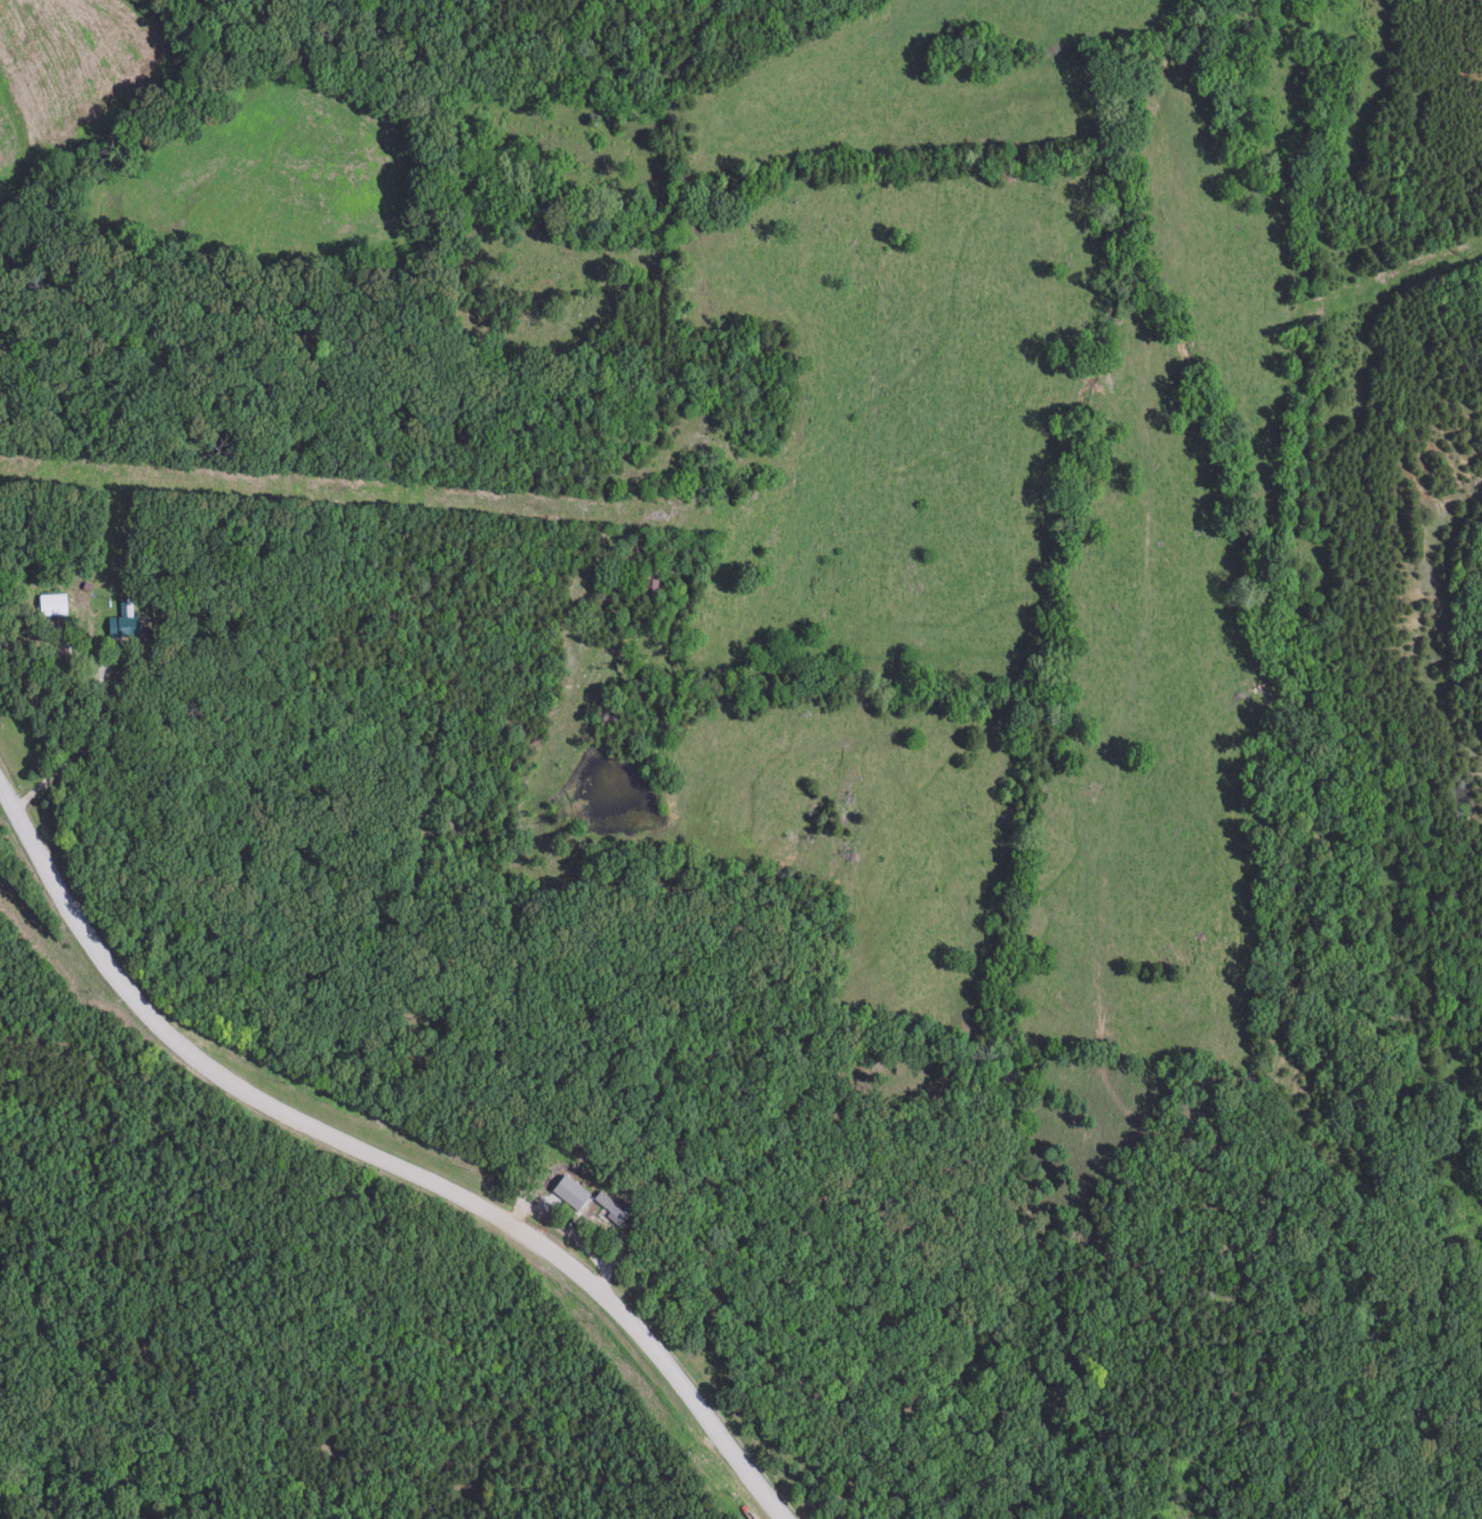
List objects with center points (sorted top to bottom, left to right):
building: (57, 605)
road: (80, 731)
road: (382, 1157)

